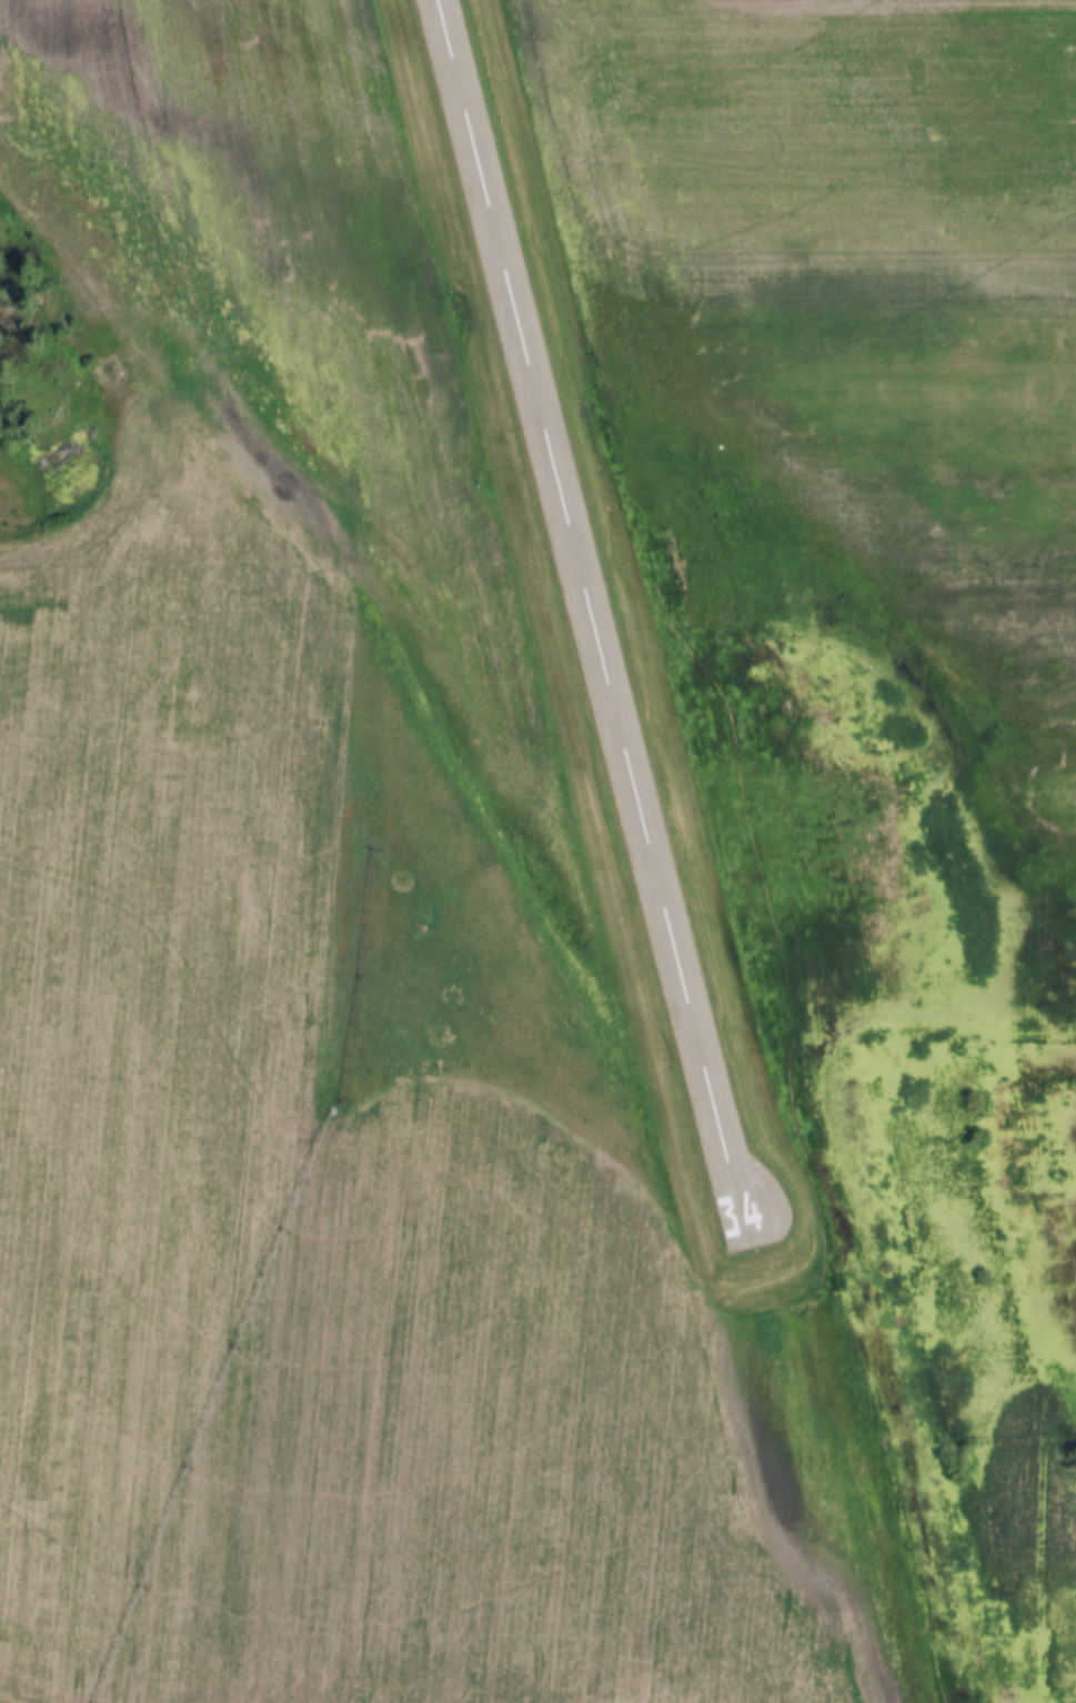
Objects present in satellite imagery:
airport: (434, 476)
airport runway: (585, 599)
airport taxiway: (754, 1208)

